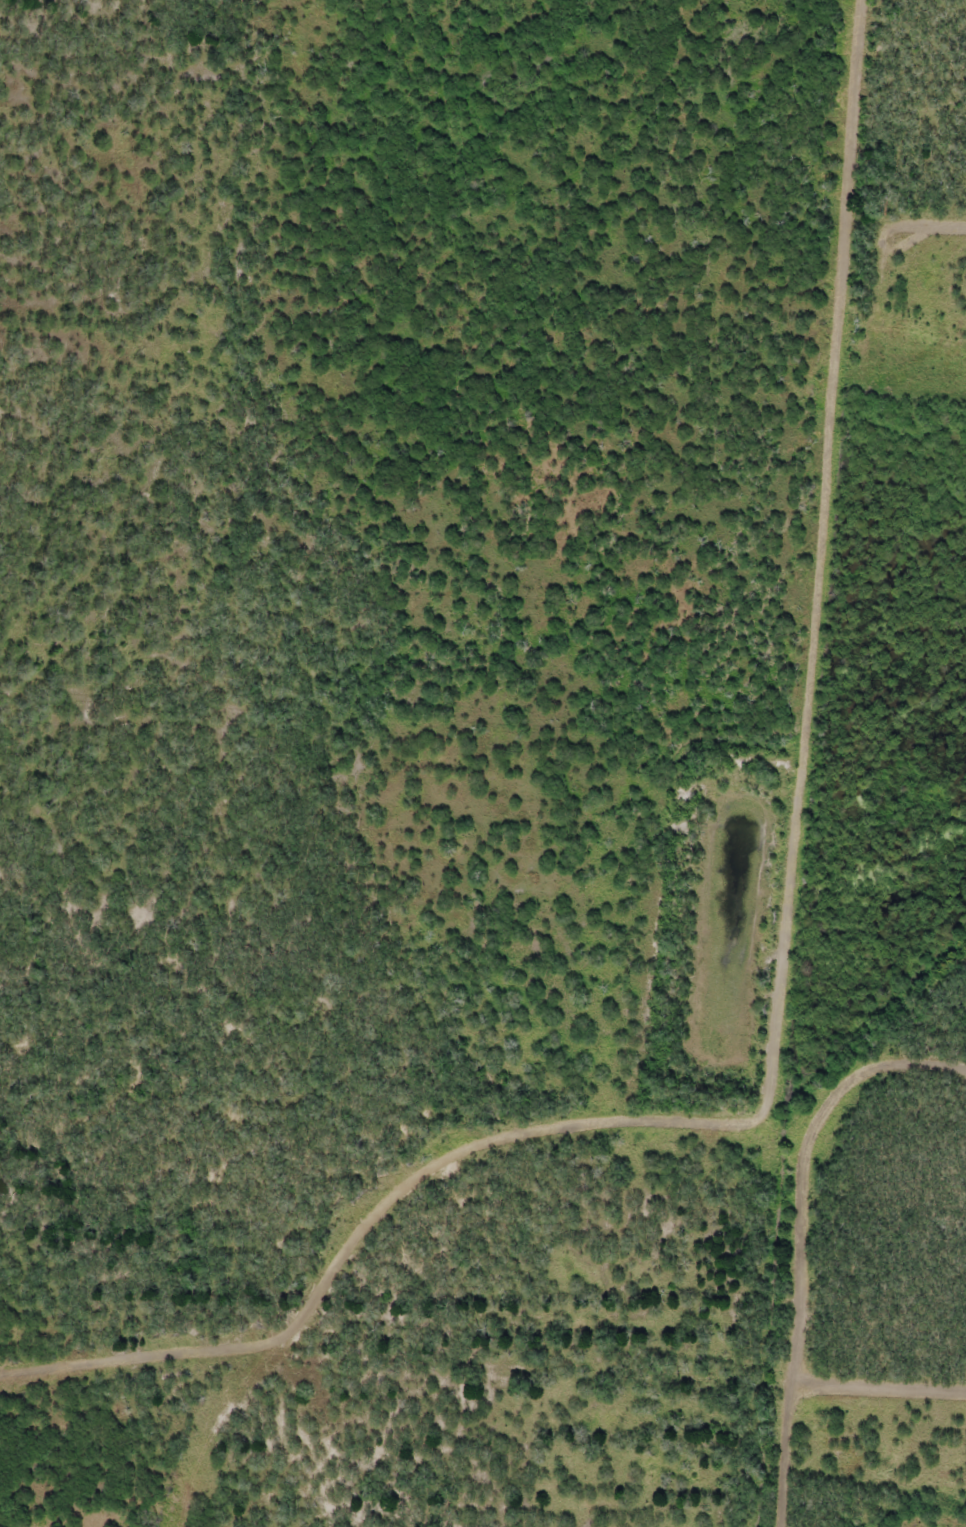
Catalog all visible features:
road: (330, 694)
road: (822, 765)

